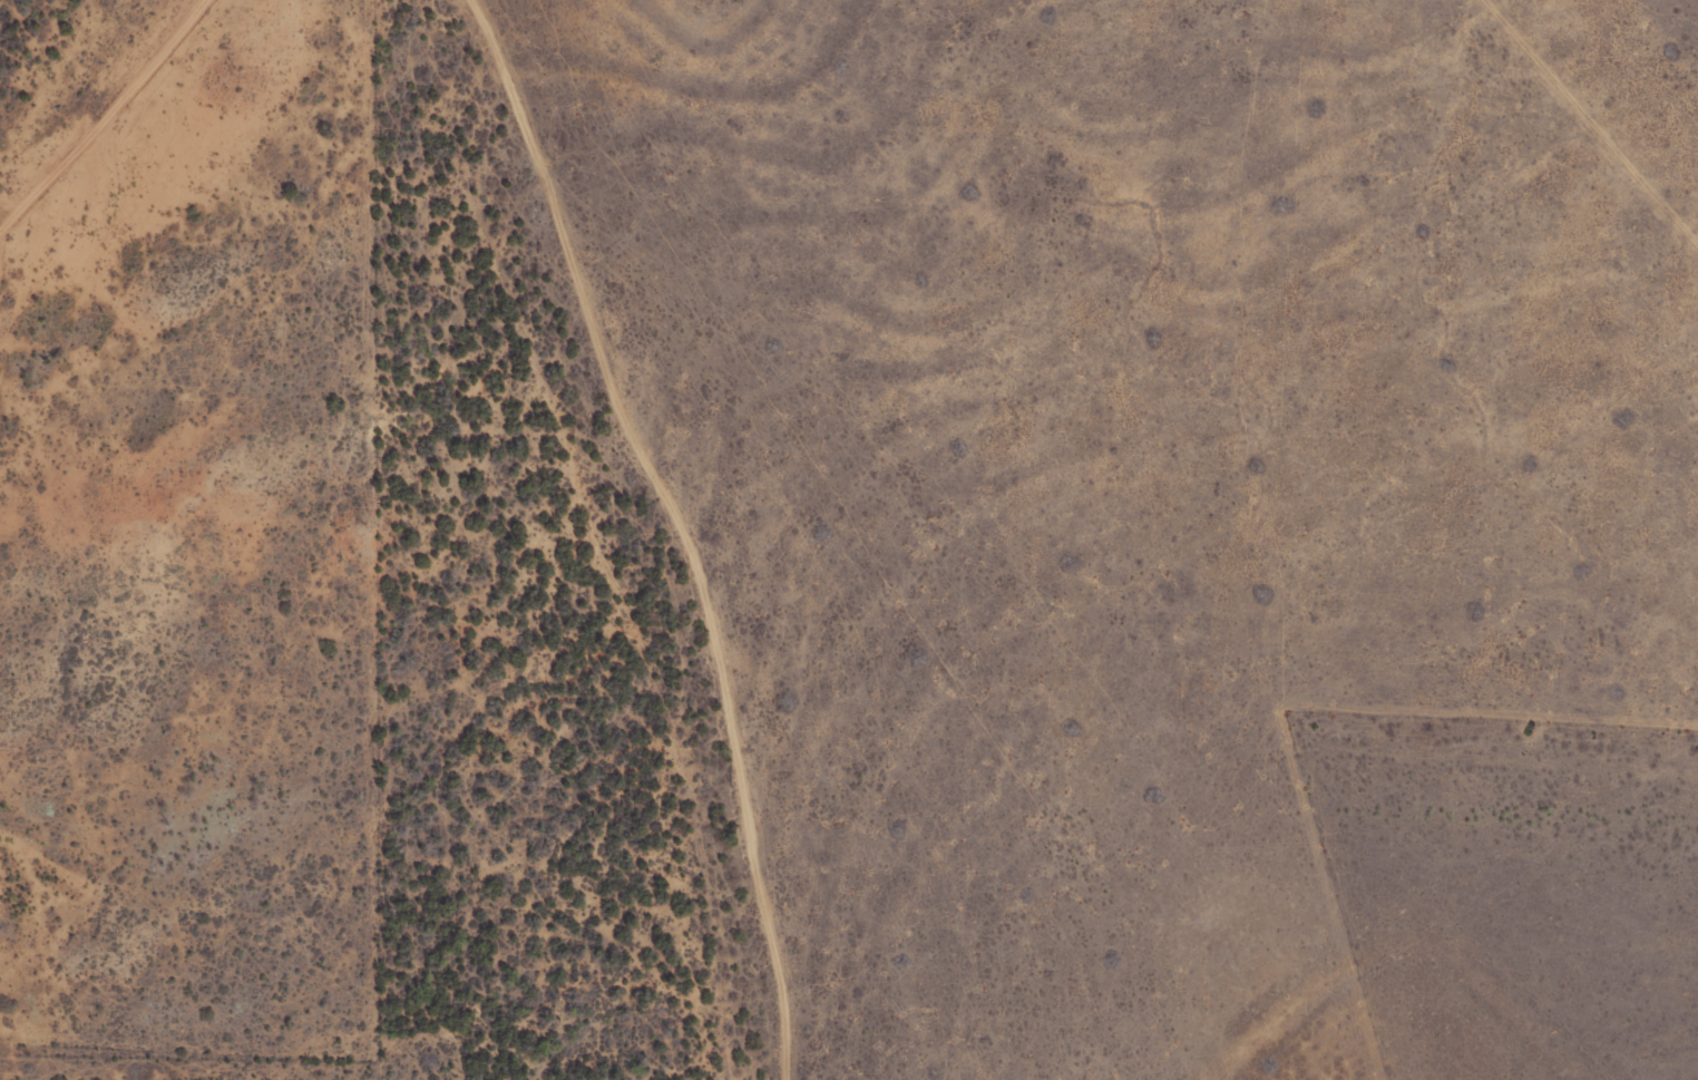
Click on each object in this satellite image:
road: (61, 82)
road: (592, 532)

